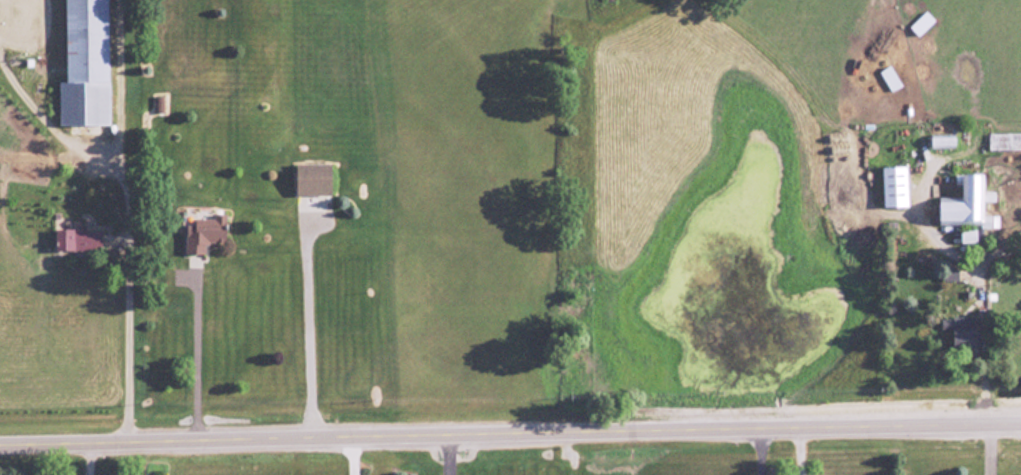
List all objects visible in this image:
building: (87, 64)
building: (941, 140)
building: (315, 178)
building: (896, 186)
building: (967, 204)
building: (206, 232)
building: (966, 236)
building: (79, 239)
building: (949, 273)
road: (126, 287)
road: (983, 321)
road: (306, 330)
building: (966, 332)
road: (196, 357)
road: (510, 430)
road: (759, 450)
road: (447, 453)
road: (352, 454)

